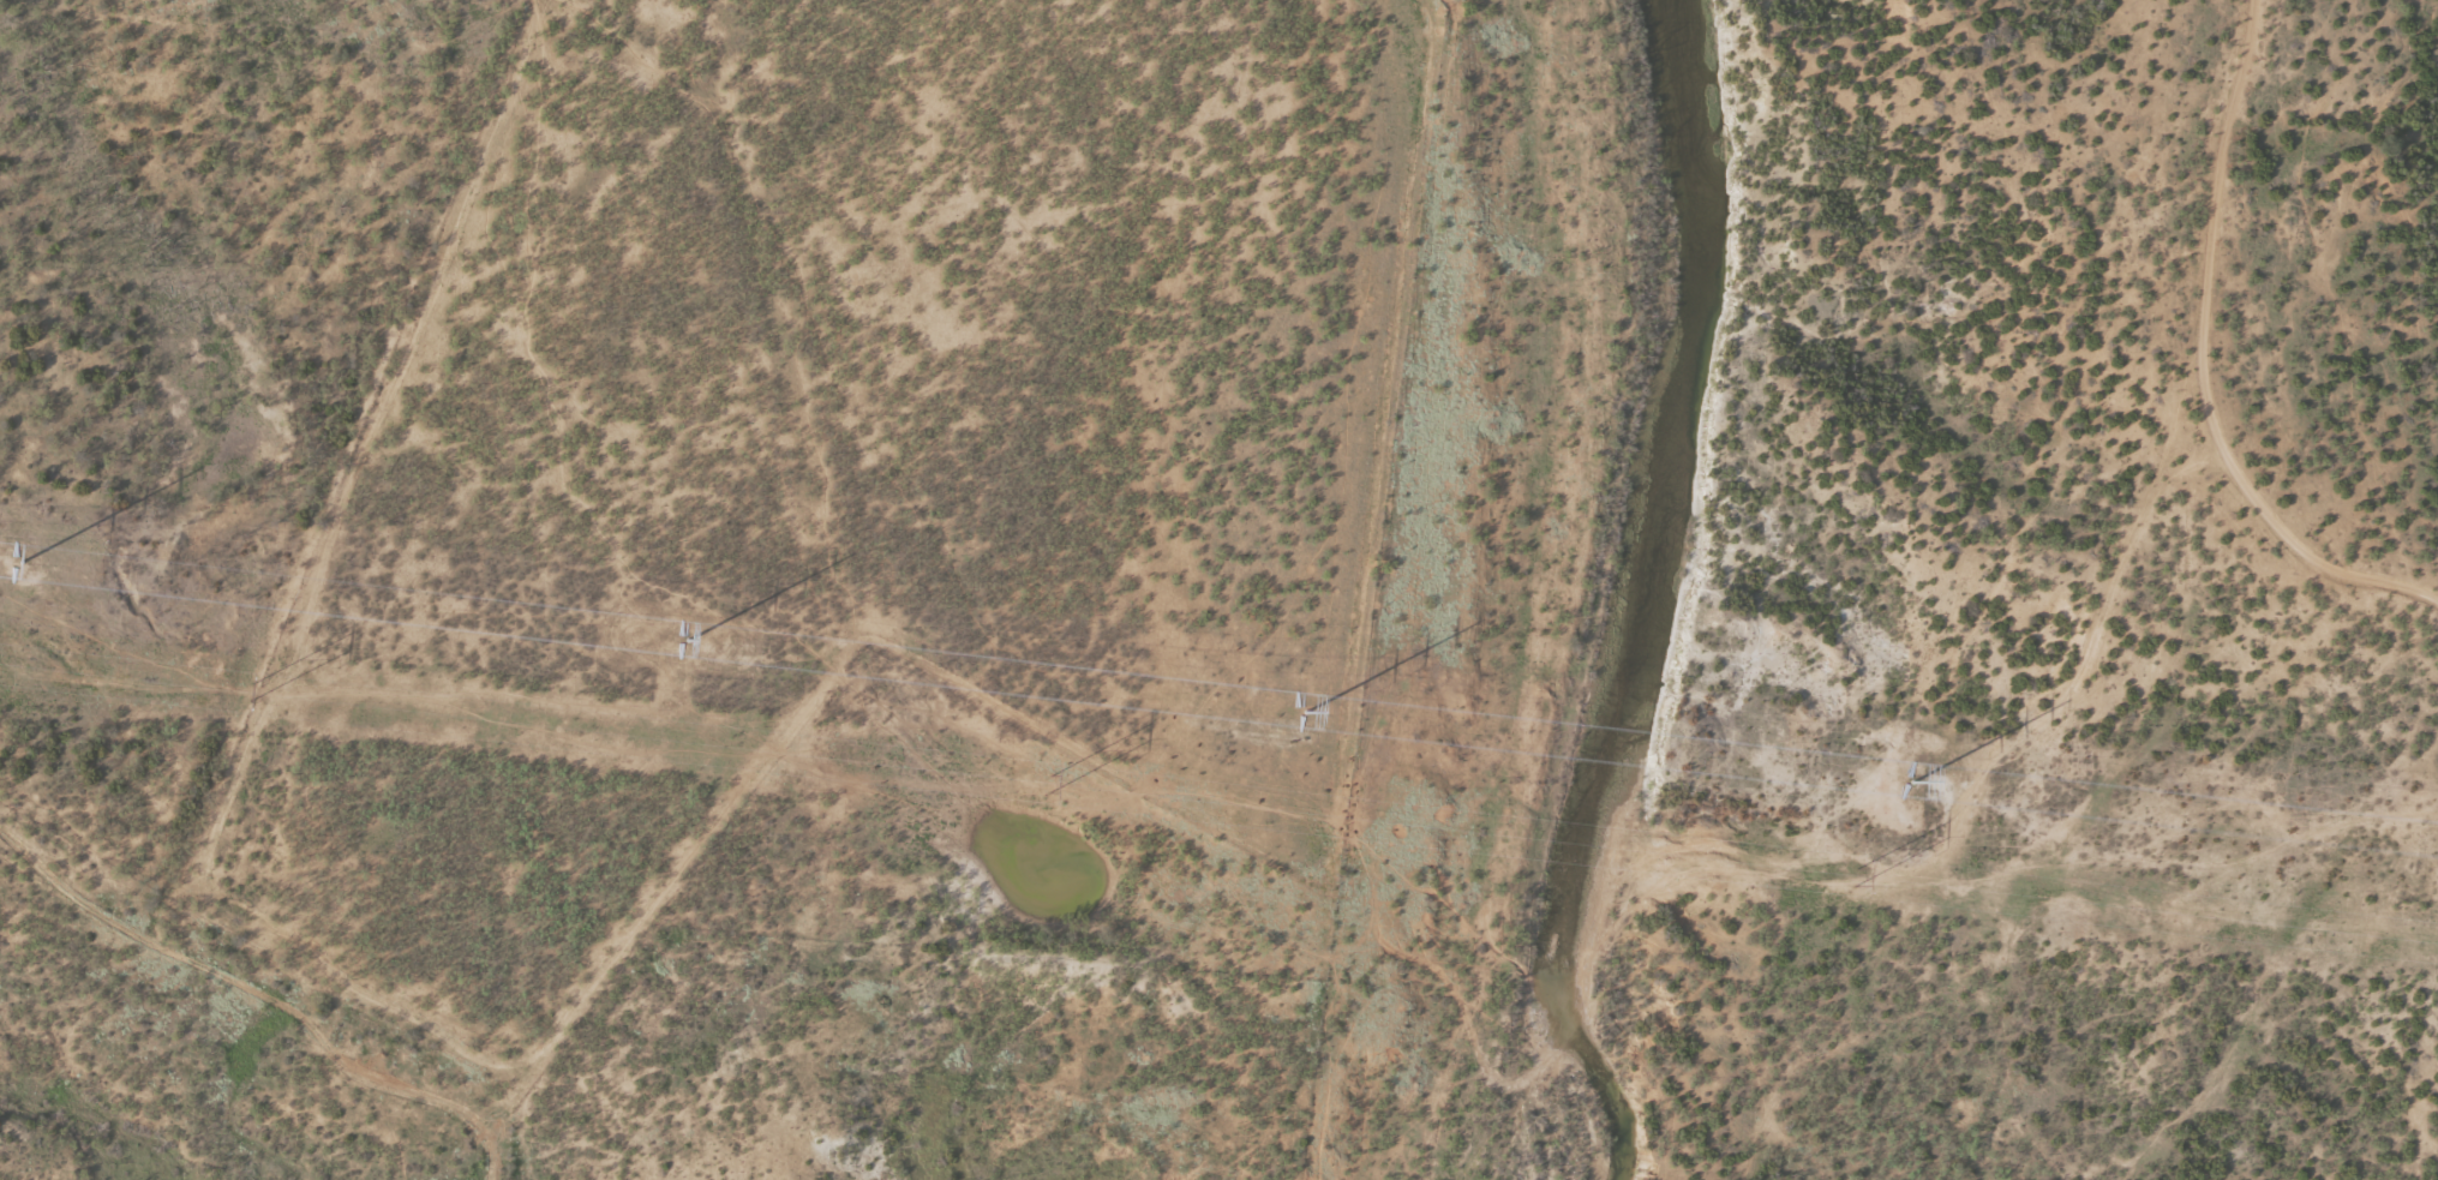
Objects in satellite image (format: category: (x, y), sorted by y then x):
power tower: (19, 562)
river: (1646, 594)
road: (2072, 611)
power tower: (687, 640)
power tower: (250, 695)
power tower: (1304, 712)
power tower: (1048, 783)
power tower: (1911, 783)
power tower: (1851, 875)

